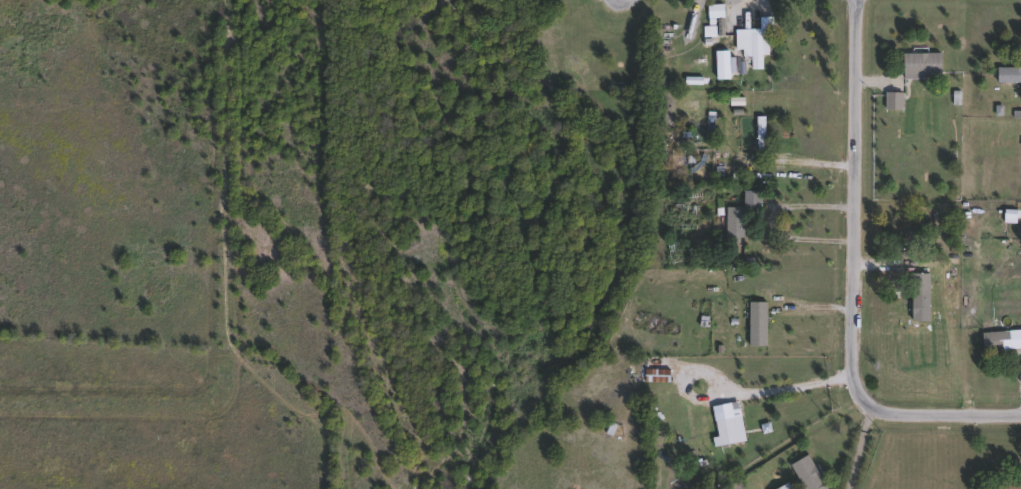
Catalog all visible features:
road: (748, 6)
road: (764, 9)
building: (754, 48)
building: (922, 66)
building: (1009, 76)
building: (895, 102)
building: (762, 138)
road: (813, 164)
road: (774, 223)
building: (736, 224)
road: (856, 282)
building: (921, 299)
road: (818, 301)
building: (759, 326)
building: (1001, 343)
road: (794, 389)
building: (731, 432)
road: (860, 449)
building: (808, 475)
building: (1007, 486)
building: (787, 487)

